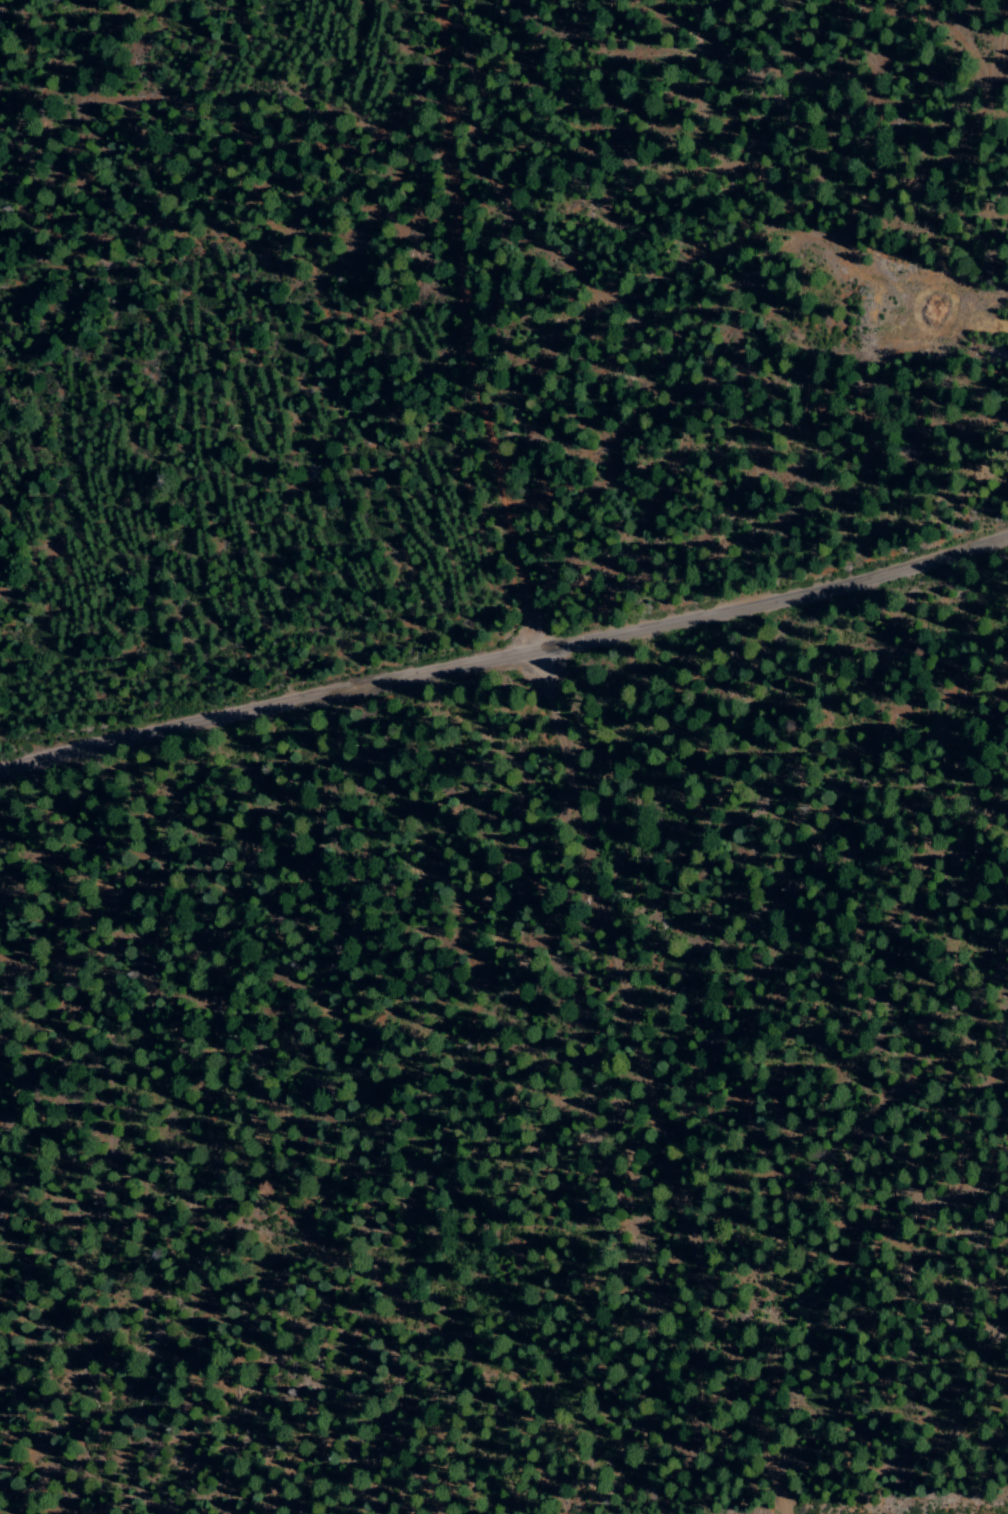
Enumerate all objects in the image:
road: (504, 659)
road: (606, 778)

